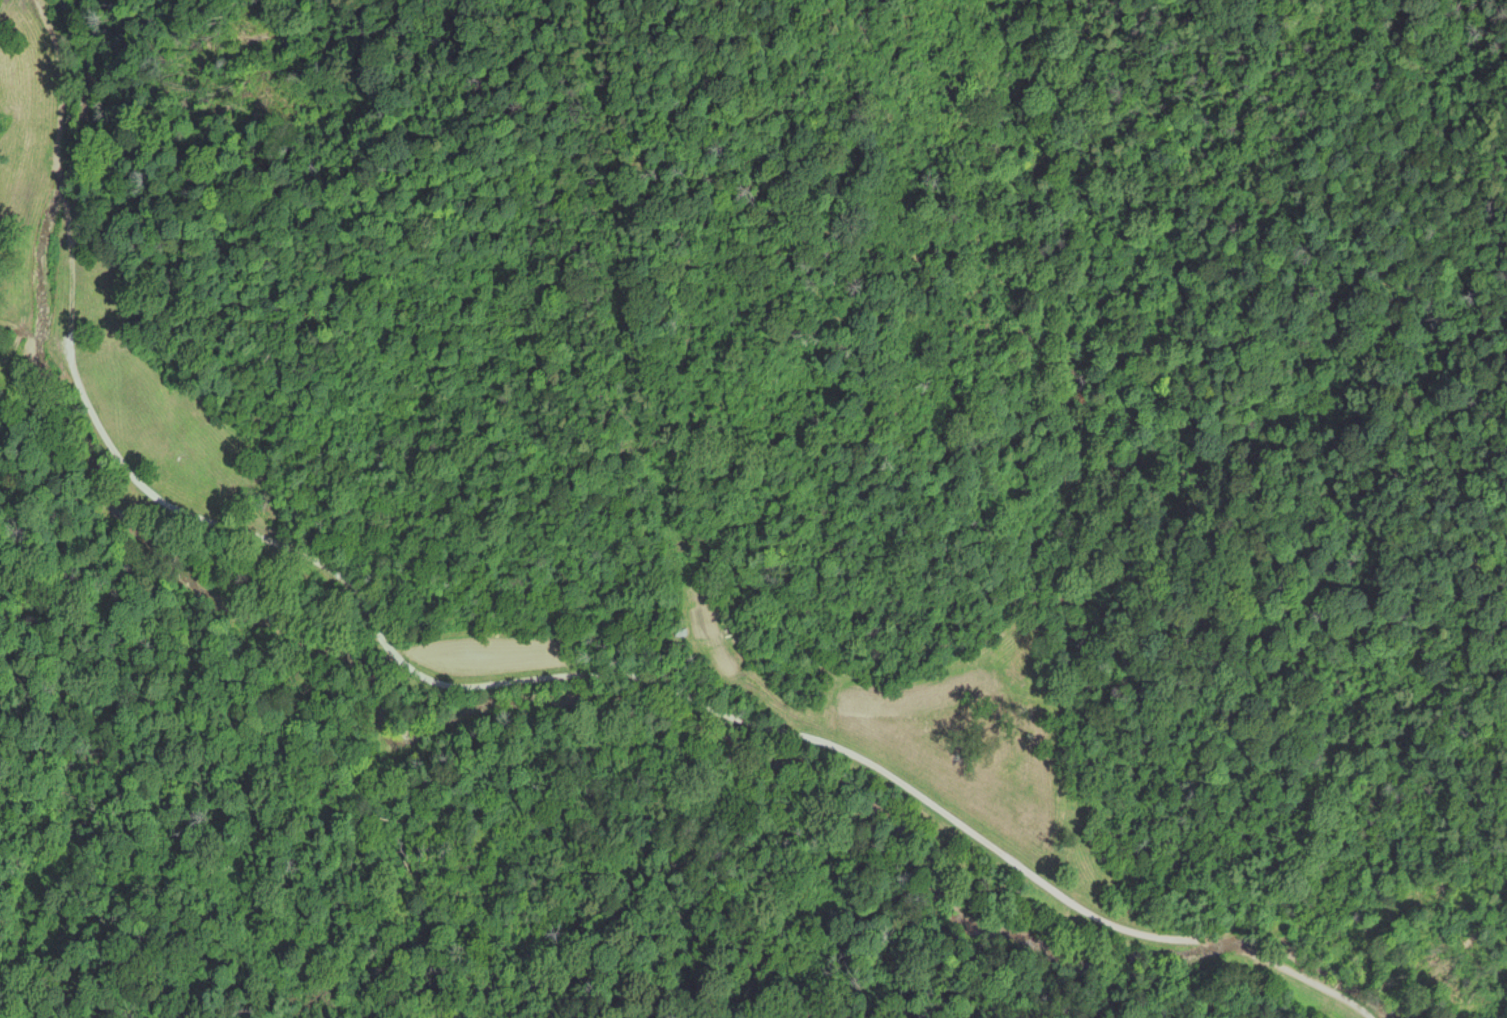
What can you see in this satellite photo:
road: (506, 680)

